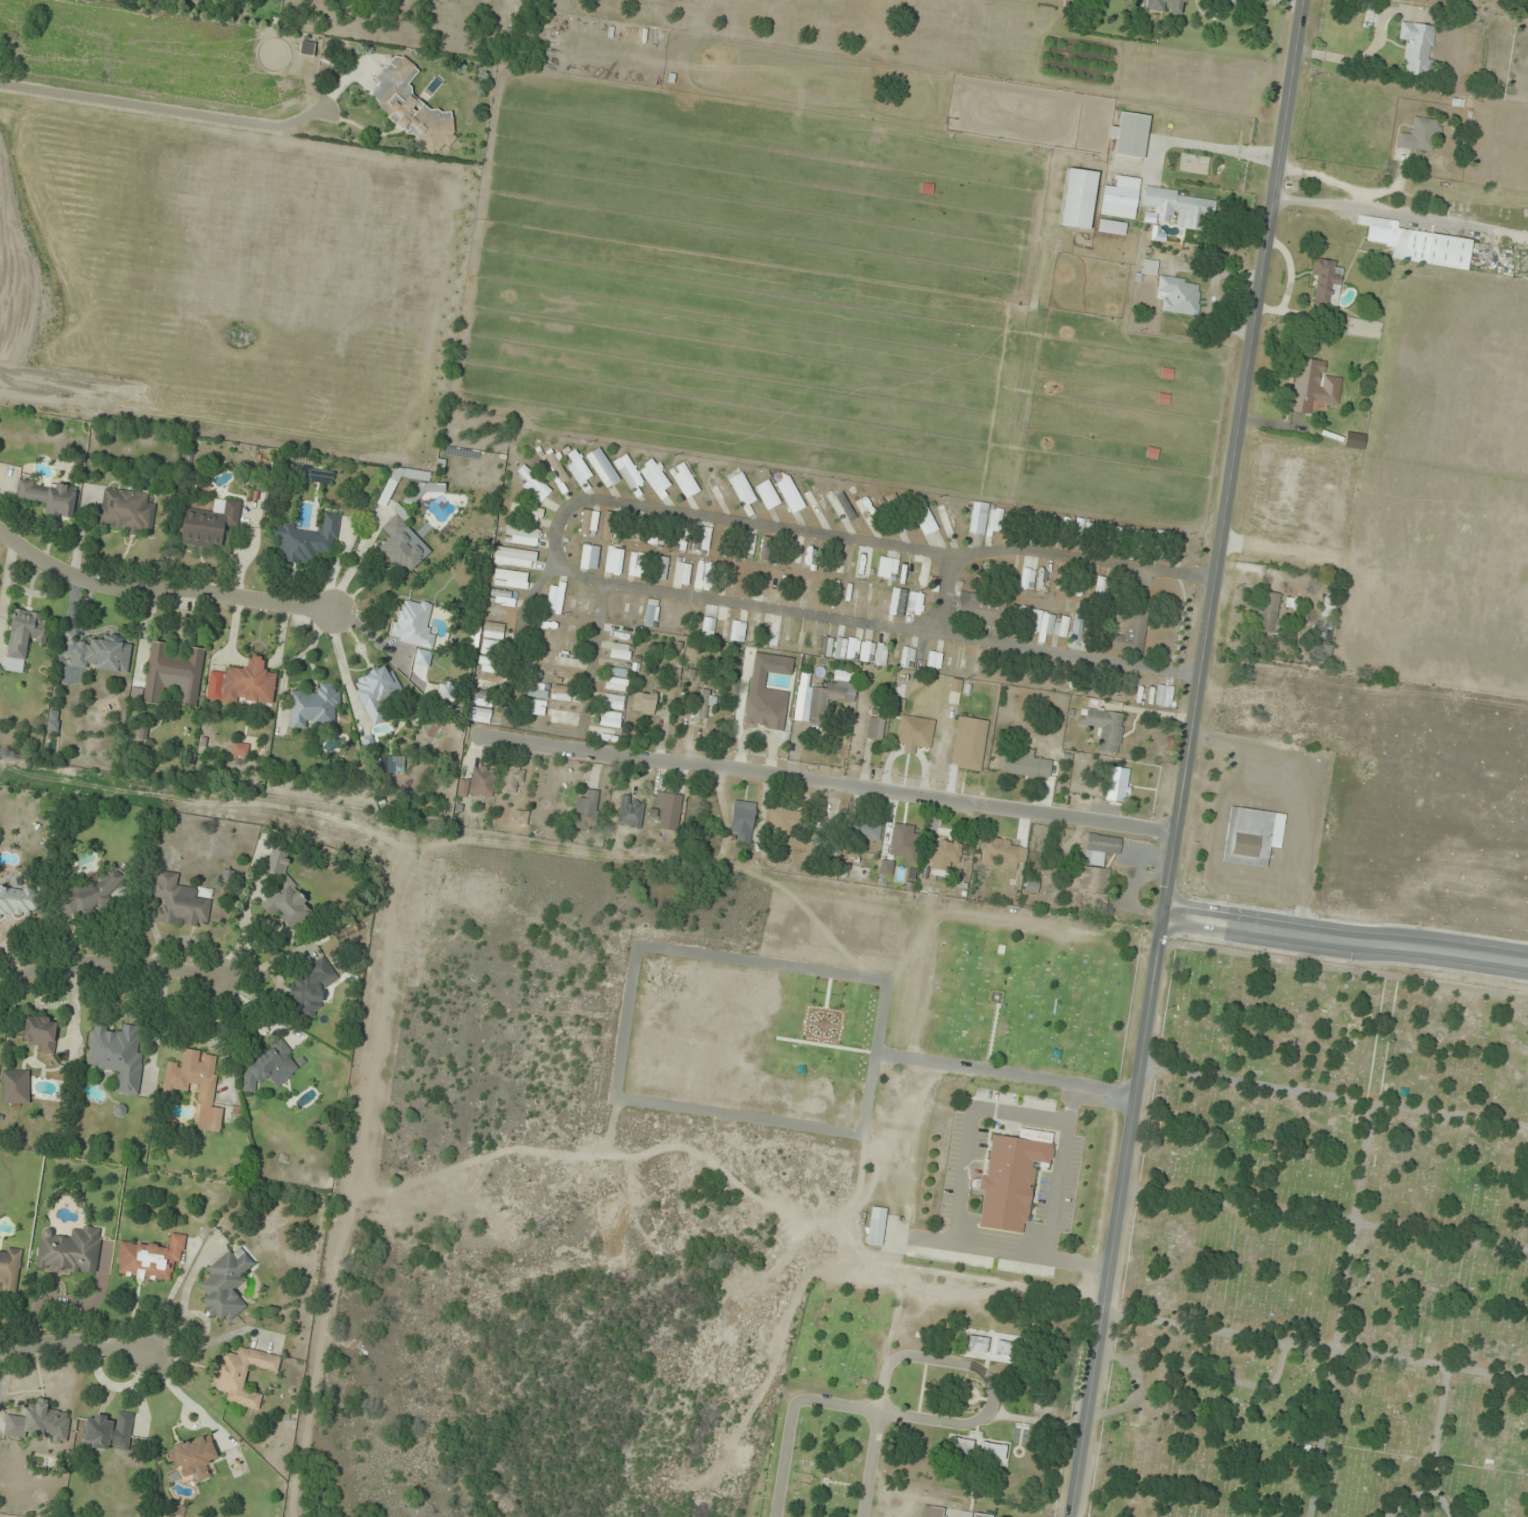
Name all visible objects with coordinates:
building: (1443, 1)
building: (1166, 6)
building: (1417, 47)
road: (161, 105)
building: (409, 105)
building: (1130, 135)
building: (1418, 137)
building: (1120, 198)
building: (1078, 199)
building: (1178, 207)
building: (1111, 227)
building: (1417, 244)
building: (1327, 281)
building: (1180, 295)
building: (1313, 386)
building: (1354, 440)
building: (556, 467)
building: (602, 467)
building: (629, 472)
building: (309, 474)
building: (655, 477)
building: (684, 480)
building: (534, 485)
building: (719, 488)
building: (742, 489)
building: (790, 494)
building: (767, 495)
building: (49, 497)
building: (816, 499)
building: (840, 504)
building: (866, 507)
building: (894, 508)
building: (125, 511)
building: (526, 512)
building: (978, 517)
building: (924, 518)
building: (996, 519)
building: (948, 520)
building: (589, 522)
building: (209, 524)
building: (608, 525)
building: (633, 530)
building: (652, 534)
building: (521, 536)
building: (679, 537)
building: (701, 538)
road: (858, 538)
building: (306, 540)
building: (400, 544)
building: (767, 547)
building: (744, 548)
building: (795, 552)
building: (589, 556)
building: (516, 558)
building: (614, 560)
building: (637, 564)
building: (663, 568)
building: (920, 572)
building: (681, 574)
building: (703, 575)
building: (510, 578)
building: (1027, 578)
building: (761, 582)
building: (1100, 586)
road: (163, 588)
road: (947, 592)
building: (502, 597)
building: (556, 597)
building: (898, 601)
building: (583, 603)
building: (916, 603)
building: (1329, 606)
building: (979, 609)
building: (1267, 611)
building: (651, 613)
road: (876, 622)
building: (1048, 624)
building: (708, 627)
building: (1077, 630)
building: (737, 631)
building: (771, 632)
building: (1130, 632)
building: (754, 633)
building: (23, 636)
building: (492, 638)
building: (475, 640)
building: (845, 648)
building: (620, 651)
building: (867, 651)
building: (1323, 652)
building: (102, 654)
building: (881, 654)
building: (907, 657)
building: (934, 661)
building: (489, 665)
building: (618, 671)
building: (173, 674)
building: (566, 676)
building: (487, 682)
building: (243, 683)
building: (616, 684)
building: (446, 690)
building: (537, 690)
building: (955, 690)
building: (376, 692)
building: (561, 692)
building: (1164, 695)
building: (483, 698)
building: (828, 698)
building: (613, 701)
building: (644, 701)
building: (706, 702)
building: (313, 706)
building: (536, 707)
building: (764, 714)
building: (479, 715)
building: (560, 716)
building: (611, 719)
building: (53, 720)
building: (875, 727)
building: (1104, 727)
road: (537, 732)
building: (915, 733)
building: (604, 734)
building: (969, 743)
building: (239, 750)
road: (1184, 758)
building: (391, 764)
building: (1025, 765)
building: (512, 779)
building: (479, 782)
road: (827, 784)
building: (1118, 784)
building: (668, 809)
building: (587, 811)
building: (630, 811)
building: (698, 812)
building: (743, 820)
building: (784, 820)
building: (868, 831)
building: (1252, 836)
building: (1101, 849)
building: (946, 850)
building: (1001, 853)
building: (1091, 885)
building: (286, 896)
building: (19, 900)
building: (179, 901)
road: (1344, 941)
road: (110, 961)
building: (312, 987)
building: (41, 1034)
building: (117, 1055)
building: (269, 1069)
building: (197, 1085)
building: (15, 1087)
building: (1004, 1197)
building: (876, 1226)
park: (1177, 1244)
building: (70, 1251)
building: (149, 1259)
building: (9, 1269)
building: (226, 1284)
road: (74, 1342)
building: (977, 1344)
building: (241, 1375)
building: (39, 1422)
building: (108, 1432)
building: (977, 1448)
building: (192, 1458)
building: (932, 1511)
building: (972, 1515)

